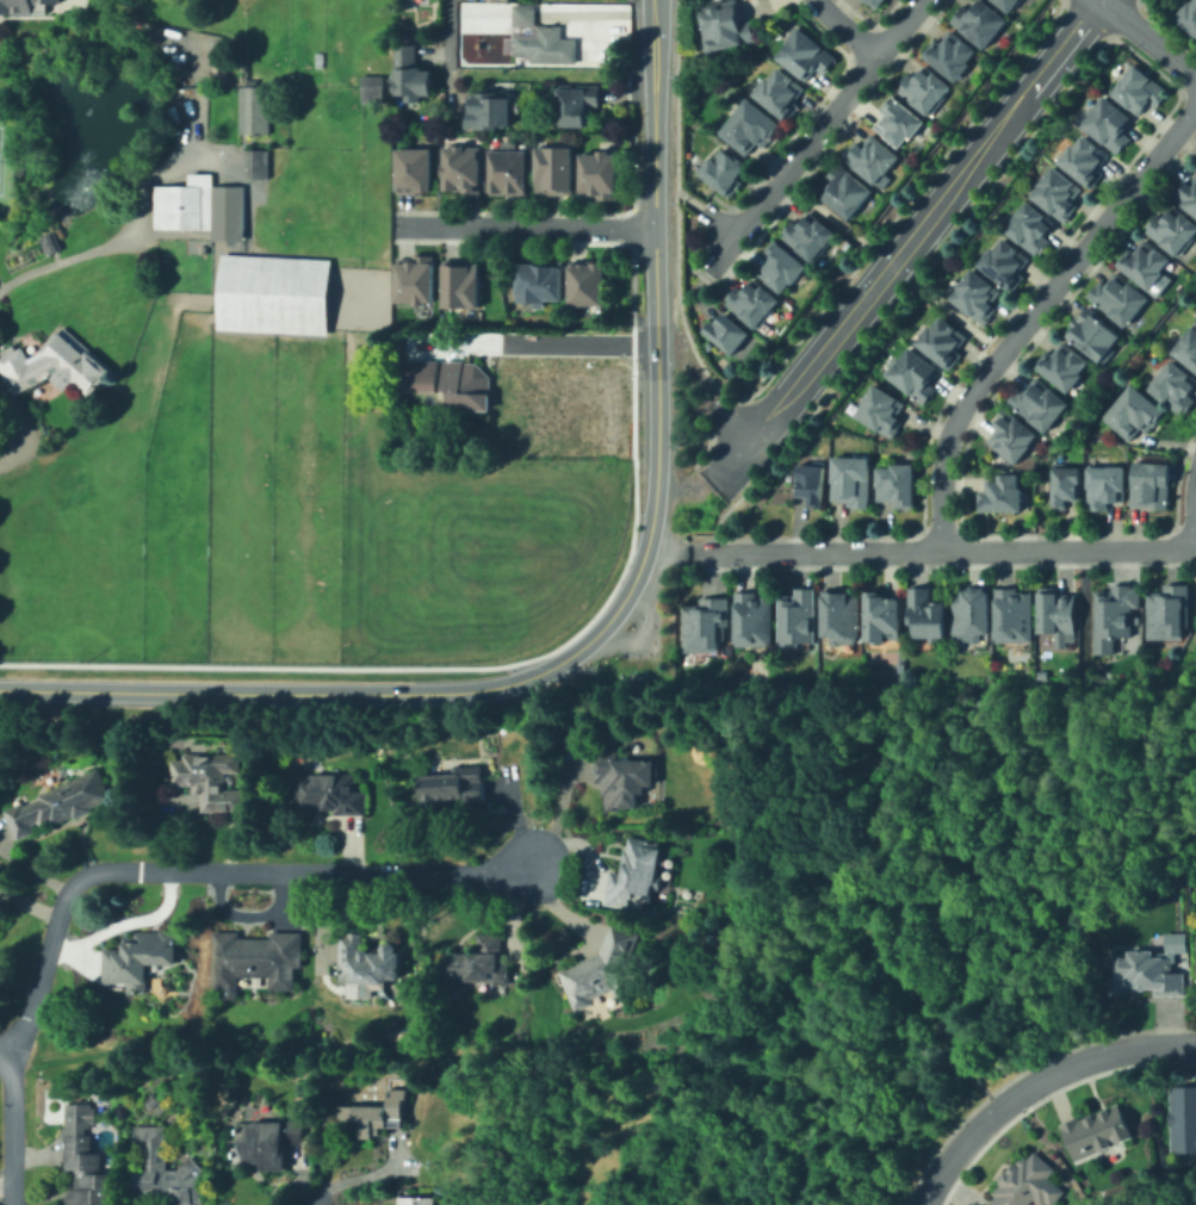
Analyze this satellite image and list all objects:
building: (878, 1)
building: (1012, 2)
building: (25, 5)
building: (526, 12)
building: (1189, 13)
building: (981, 18)
building: (724, 23)
road: (844, 27)
road: (446, 30)
road: (1147, 36)
building: (550, 46)
building: (808, 51)
building: (954, 51)
building: (413, 73)
building: (927, 86)
building: (374, 88)
building: (1142, 88)
building: (781, 89)
building: (577, 107)
building: (491, 108)
building: (255, 110)
road: (652, 112)
building: (899, 119)
building: (1111, 122)
building: (750, 124)
road: (813, 135)
park: (0, 139)
building: (873, 156)
building: (1086, 156)
building: (260, 164)
building: (465, 168)
building: (416, 170)
building: (509, 170)
building: (554, 170)
building: (726, 172)
building: (601, 175)
building: (849, 188)
building: (1059, 192)
building: (1188, 192)
road: (682, 193)
building: (191, 204)
building: (224, 211)
road: (721, 222)
road: (525, 225)
building: (1031, 226)
building: (1172, 228)
road: (124, 232)
building: (812, 234)
road: (907, 242)
building: (49, 243)
building: (1006, 260)
building: (1145, 260)
road: (893, 263)
road: (653, 267)
building: (782, 268)
building: (420, 277)
building: (541, 282)
building: (590, 282)
building: (461, 284)
building: (274, 294)
building: (979, 294)
building: (1118, 297)
building: (755, 304)
road: (1034, 313)
building: (730, 334)
building: (1093, 334)
building: (943, 340)
road: (553, 341)
building: (1189, 347)
building: (1065, 364)
building: (58, 368)
building: (419, 373)
building: (916, 374)
road: (655, 379)
building: (465, 384)
building: (1175, 385)
building: (510, 397)
building: (603, 398)
building: (563, 399)
building: (1039, 402)
building: (881, 410)
building: (1132, 411)
road: (725, 424)
building: (1011, 435)
building: (813, 479)
building: (850, 482)
building: (1149, 482)
building: (1066, 484)
building: (897, 485)
building: (1103, 486)
building: (998, 491)
road: (724, 514)
road: (1195, 533)
road: (664, 549)
road: (940, 549)
building: (1059, 610)
building: (1016, 611)
building: (1171, 613)
building: (1117, 614)
building: (927, 615)
building: (971, 616)
building: (843, 617)
building: (884, 617)
building: (799, 619)
building: (755, 620)
building: (706, 626)
road: (403, 695)
building: (622, 777)
building: (211, 781)
building: (454, 785)
building: (328, 794)
building: (61, 803)
road: (206, 869)
building: (636, 872)
road: (862, 918)
building: (138, 957)
building: (258, 957)
building: (367, 963)
building: (472, 963)
building: (605, 969)
building: (1195, 974)
building: (1146, 975)
road: (6, 1055)
road: (1035, 1085)
building: (377, 1113)
building: (1183, 1119)
road: (12, 1131)
building: (1097, 1131)
building: (266, 1142)
building: (193, 1159)
building: (86, 1160)
road: (366, 1176)
building: (1029, 1184)
building: (417, 1201)

